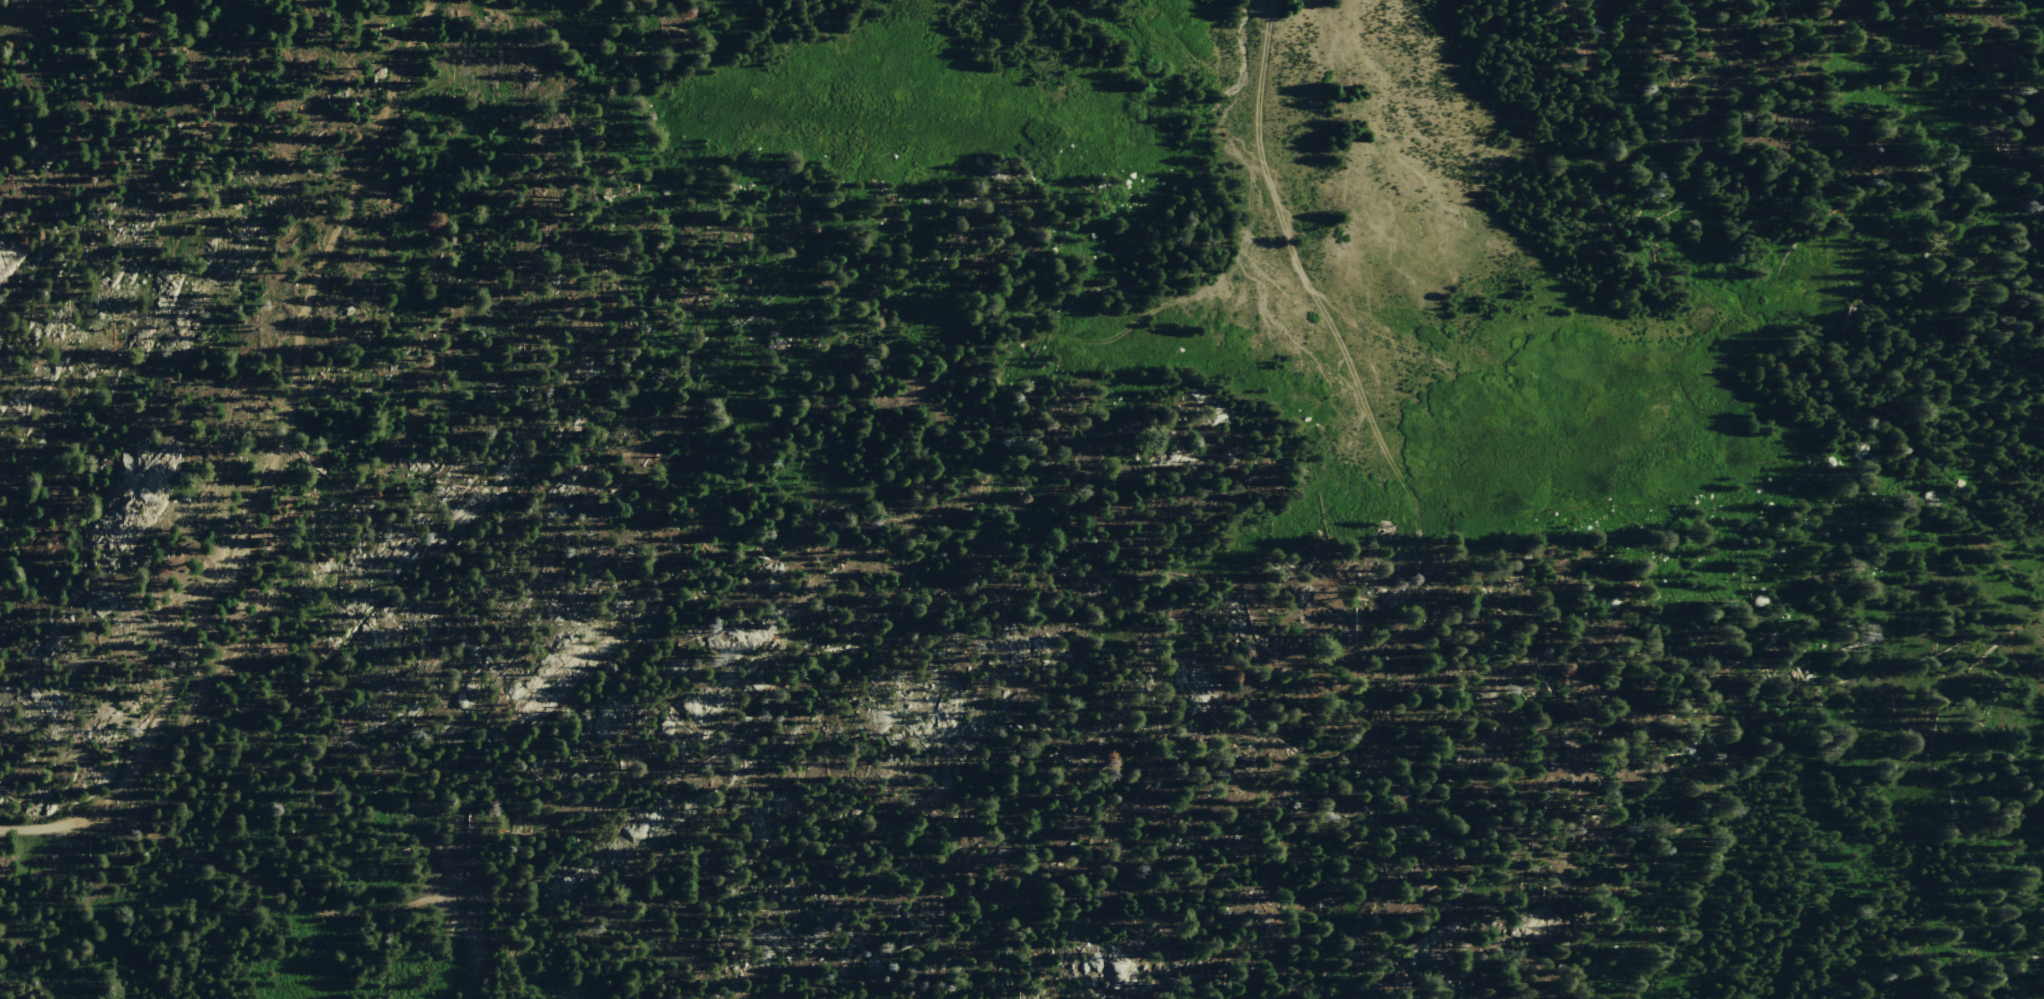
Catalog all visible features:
road: (1812, 351)
road: (271, 462)
road: (2024, 872)

